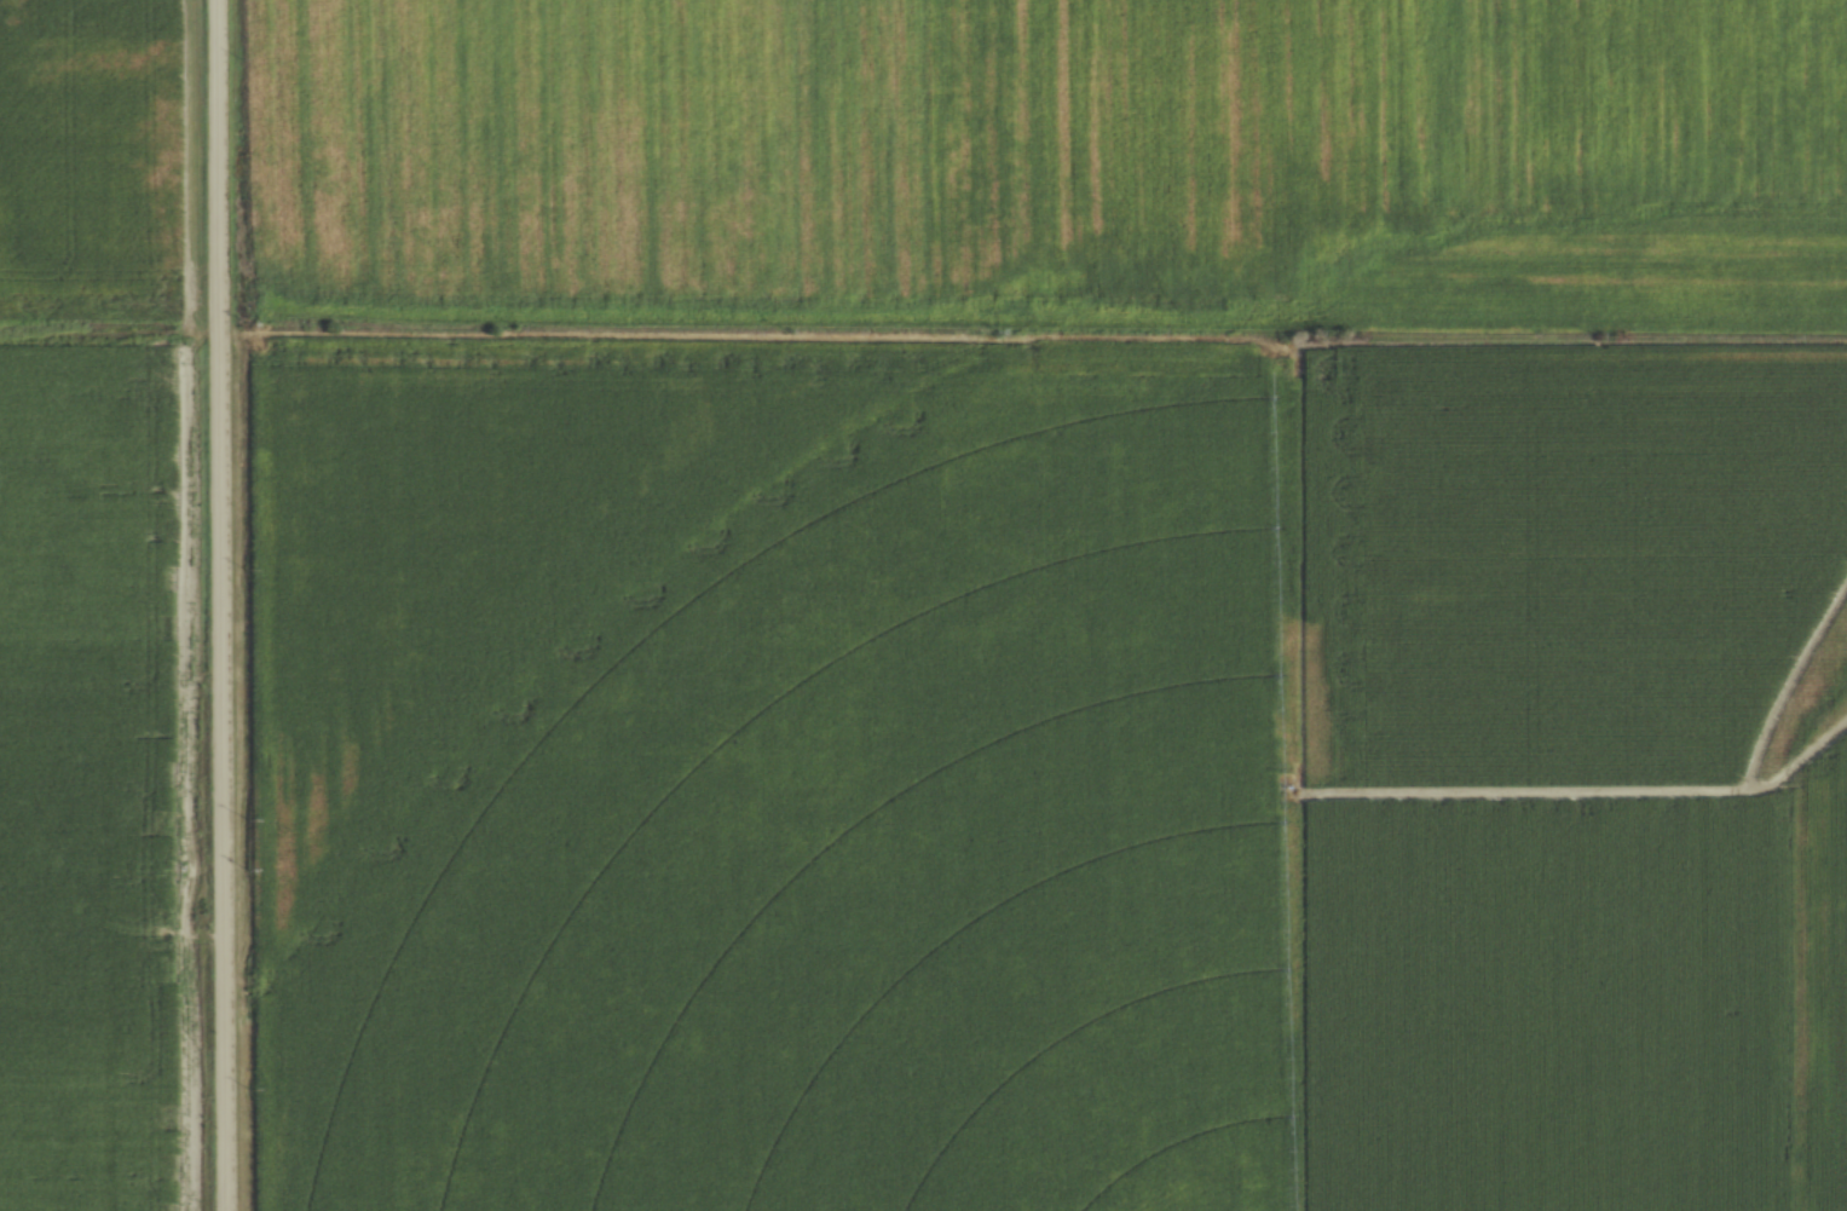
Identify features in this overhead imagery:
road: (224, 605)
building: (1, 887)

